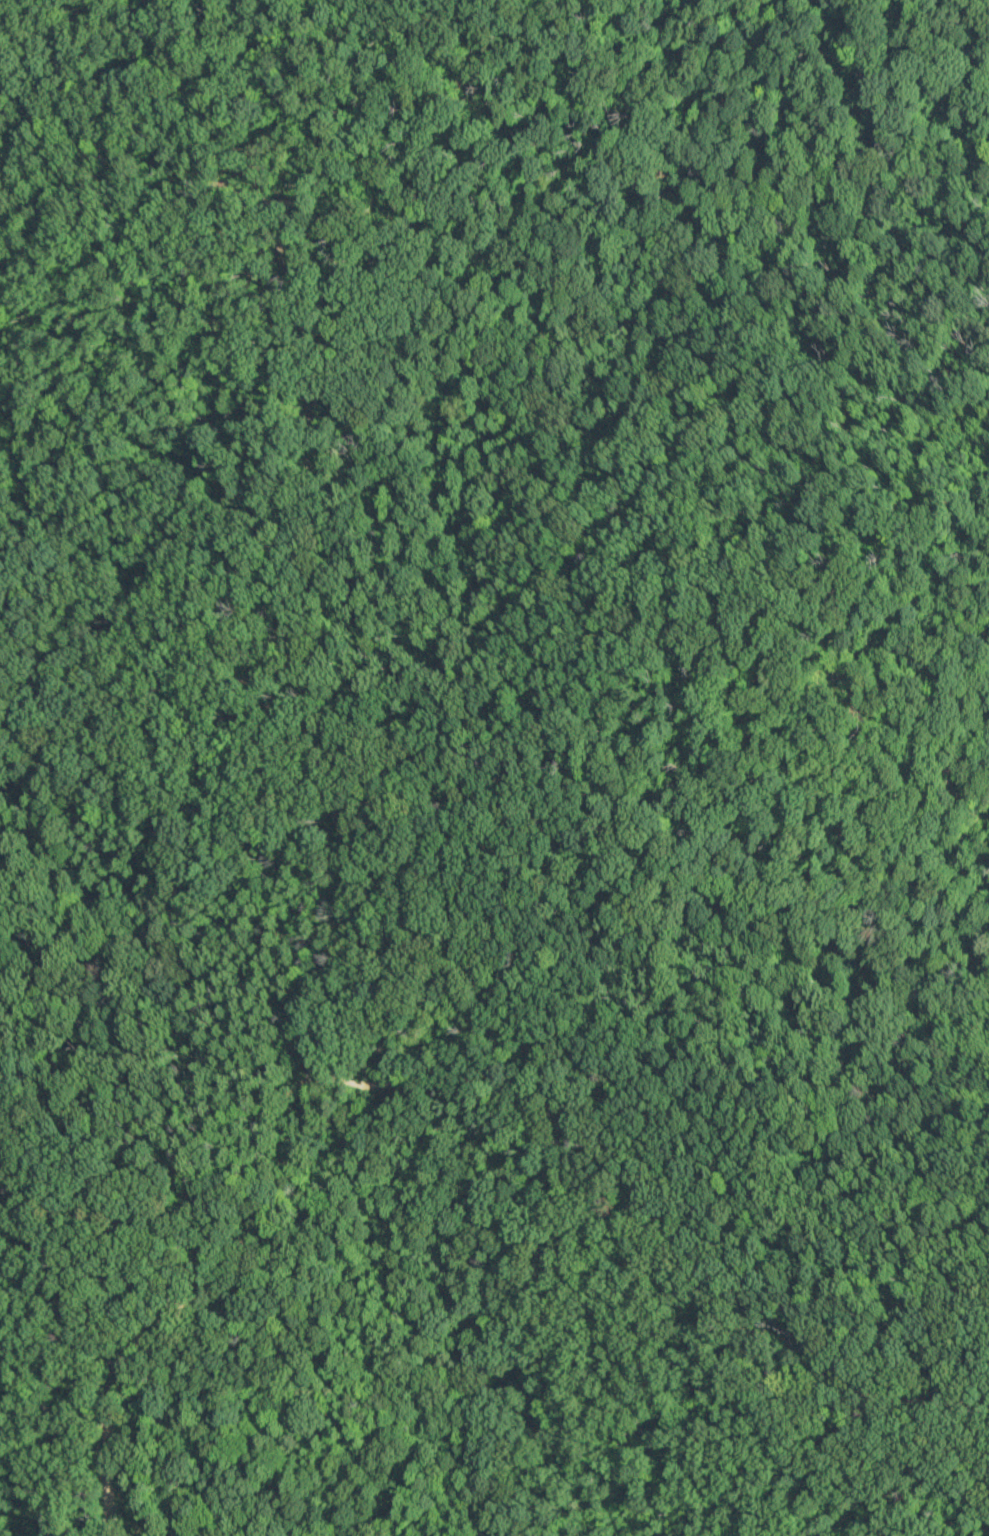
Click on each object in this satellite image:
road: (322, 794)

